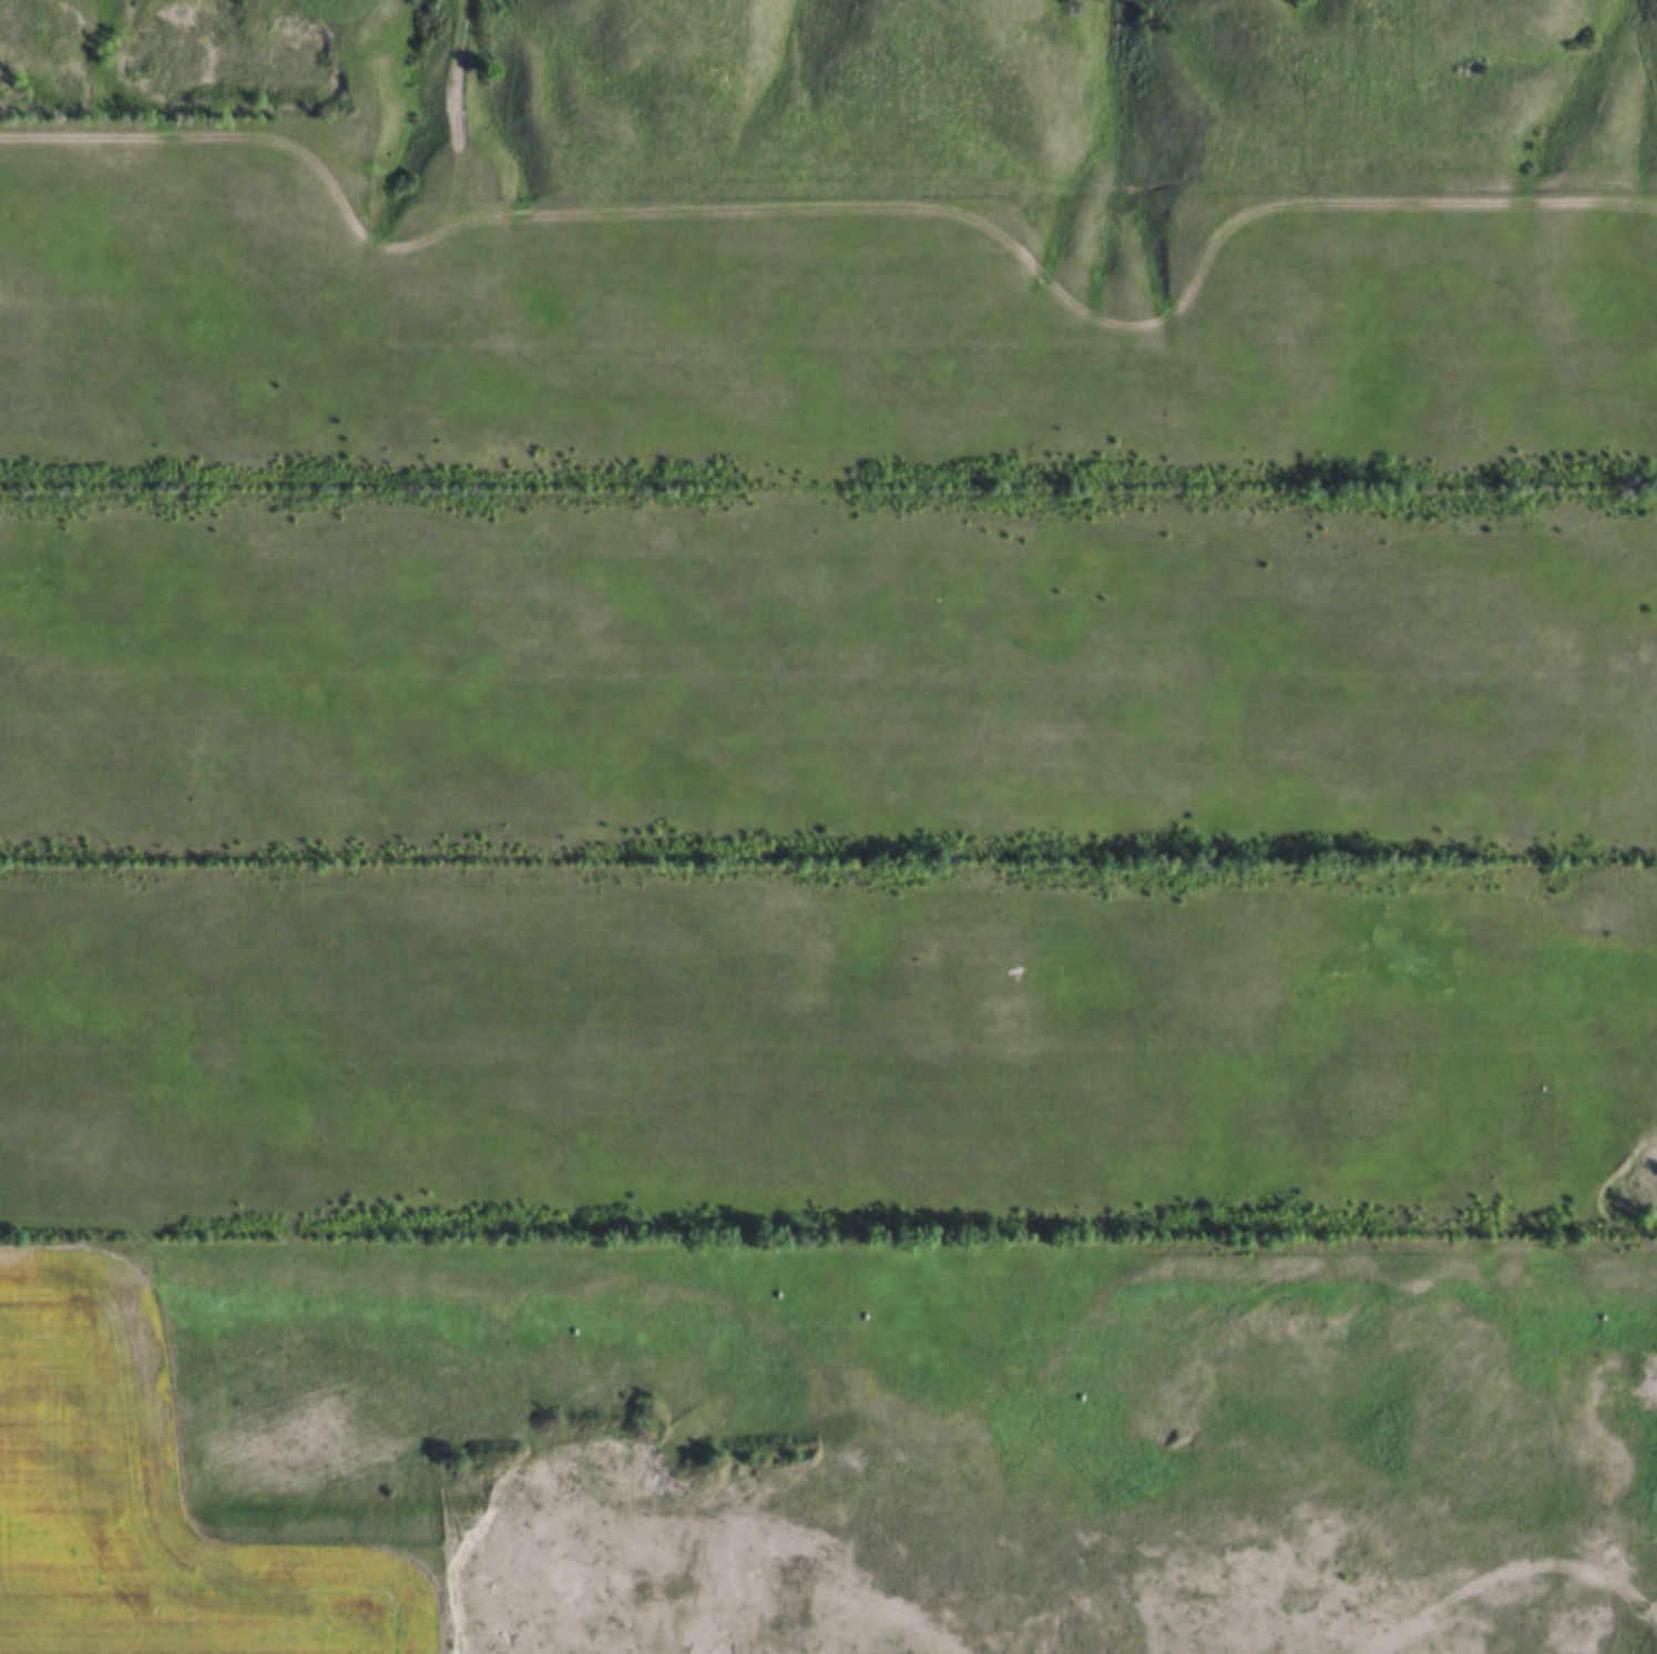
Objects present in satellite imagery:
road: (1644, 50)
quarry: (990, 1554)
road: (1525, 1564)

